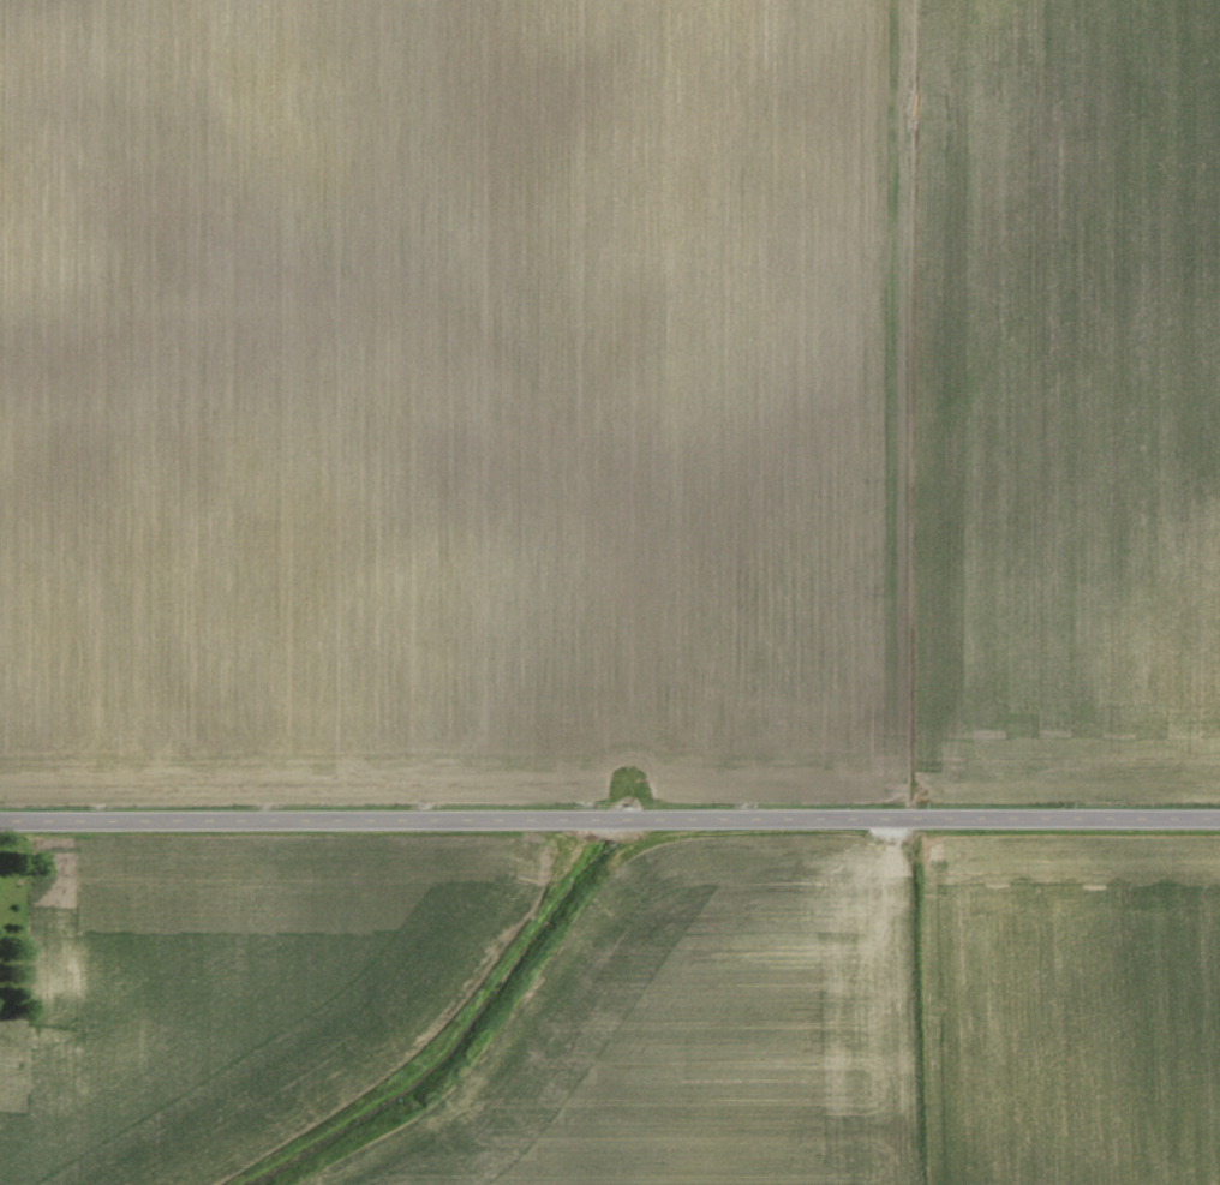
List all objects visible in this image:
road: (610, 820)

